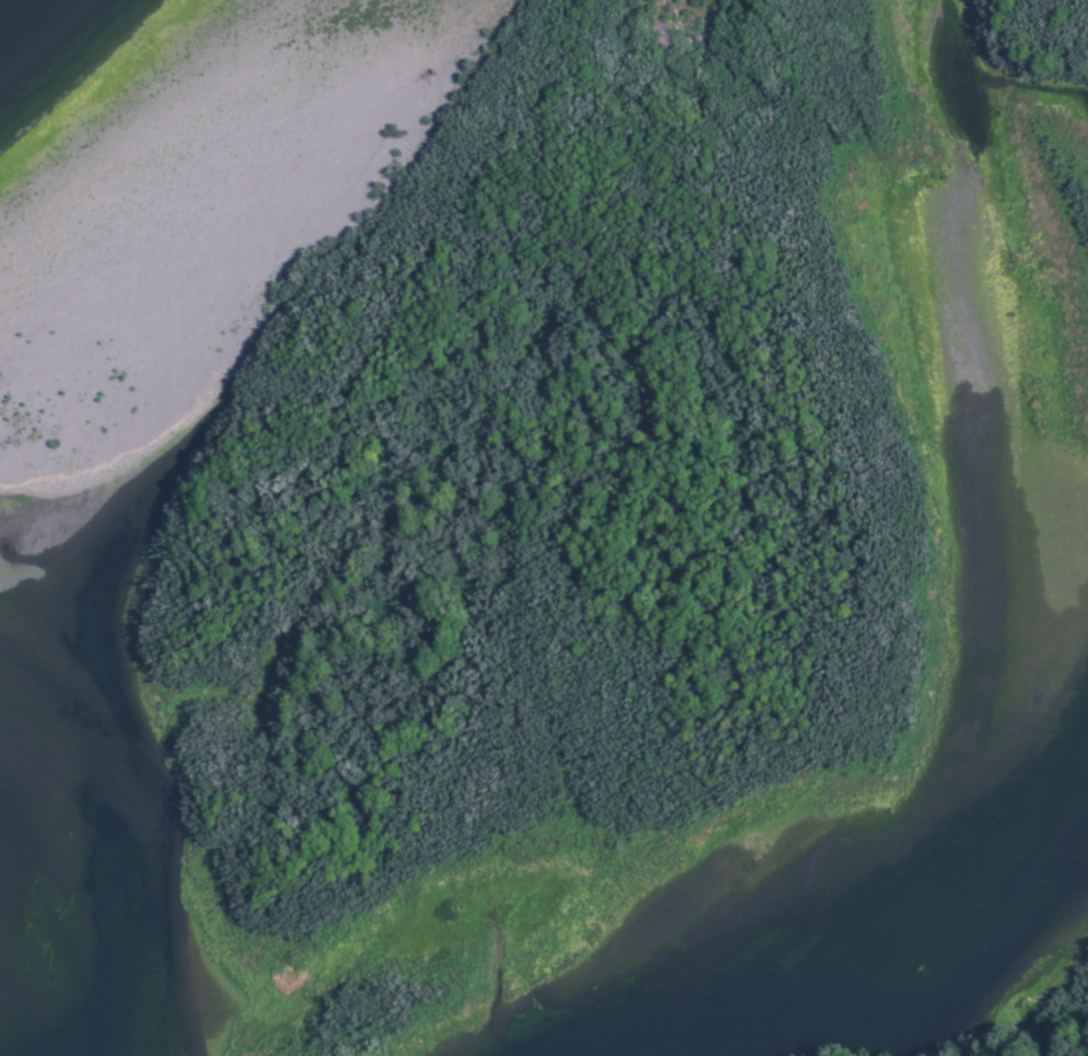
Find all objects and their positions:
river: (48, 43)

